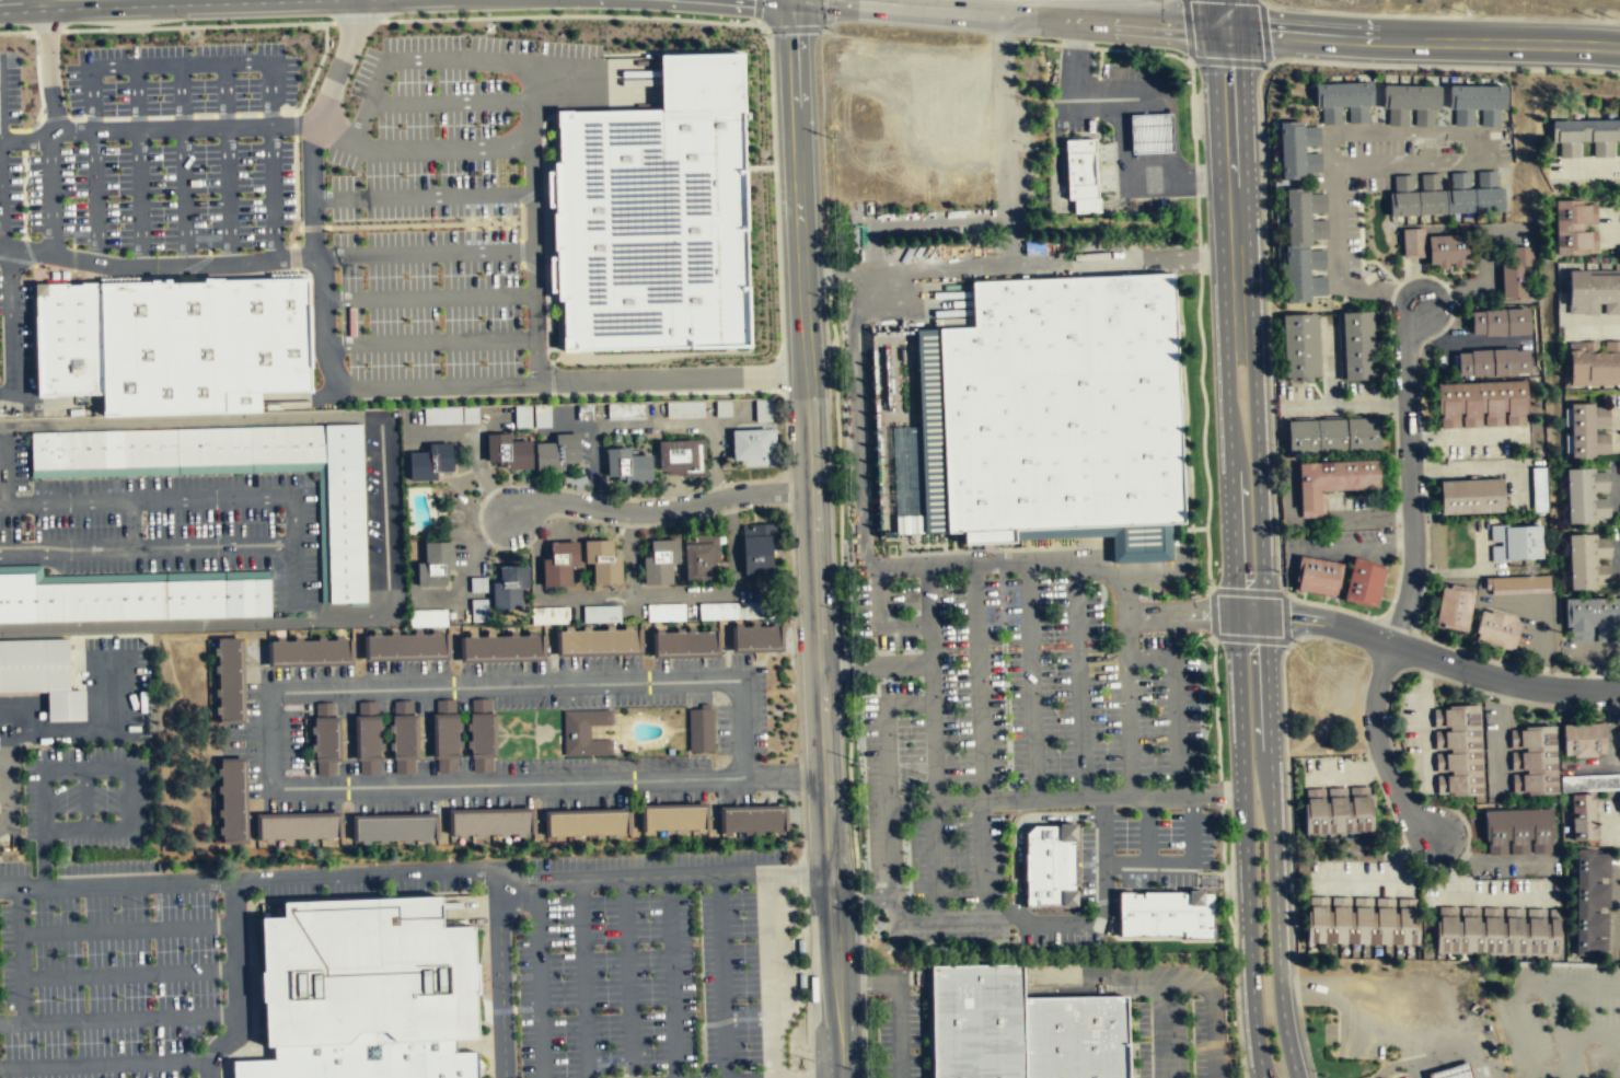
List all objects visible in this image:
road: (783, 1)
road: (792, 1)
traffic signals: (792, 2)
road: (1227, 15)
road: (1010, 19)
road: (358, 21)
road: (738, 23)
road: (198, 26)
road: (47, 30)
road: (15, 32)
street lamp: (581, 35)
street lamp: (302, 39)
road: (1424, 42)
street lamp: (467, 43)
street lamp: (535, 47)
road: (414, 58)
road: (178, 65)
street lamp: (1319, 66)
road: (315, 69)
street lamp: (1411, 70)
street lamp: (1509, 72)
street lamp: (245, 74)
street lamp: (158, 77)
street lamp: (103, 79)
street lamp: (433, 81)
road: (592, 82)
street lamp: (1195, 82)
street lamp: (387, 83)
road: (39, 89)
building: (1344, 93)
road: (224, 95)
road: (180, 96)
road: (1076, 96)
building: (1412, 96)
building: (1479, 96)
road: (136, 97)
road: (449, 102)
street lamp: (67, 107)
street lamp: (518, 113)
road: (55, 116)
road: (38, 117)
road: (294, 125)
road: (4, 129)
road: (121, 129)
building: (1149, 132)
gas station: (1149, 132)
road: (1482, 134)
road: (554, 137)
building: (1584, 137)
street lamp: (290, 138)
road: (796, 138)
road: (24, 140)
street lamp: (204, 140)
street lamp: (115, 142)
parking lot: (148, 148)
road: (421, 148)
building: (1292, 149)
street lamp: (30, 153)
road: (548, 160)
road: (747, 167)
street lamp: (519, 172)
street lamp: (361, 173)
street lamp: (436, 173)
building: (1079, 174)
road: (296, 182)
road: (1145, 183)
road: (1233, 184)
road: (50, 190)
road: (273, 192)
road: (228, 194)
road: (529, 194)
road: (183, 195)
road: (423, 195)
road: (95, 196)
road: (138, 196)
building: (1448, 200)
parking lot: (445, 212)
street lamp: (327, 213)
building: (655, 217)
street lamp: (293, 222)
road: (520, 222)
street lamp: (206, 223)
road: (533, 223)
road: (423, 224)
street lamp: (118, 225)
road: (745, 225)
road: (0, 227)
street lamp: (498, 227)
street lamp: (516, 227)
street lamp: (1203, 227)
road: (297, 228)
road: (313, 228)
building: (1574, 228)
street lamp: (439, 229)
street lamp: (362, 230)
street lamp: (34, 235)
road: (293, 235)
building: (1414, 242)
road: (544, 243)
building: (1297, 244)
building: (1450, 247)
road: (521, 251)
road: (424, 253)
road: (551, 253)
road: (557, 253)
road: (293, 256)
road: (288, 258)
road: (1056, 263)
road: (521, 264)
road: (1335, 268)
road: (534, 269)
road: (840, 273)
street lamp: (521, 274)
street lamp: (439, 275)
building: (1515, 275)
road: (207, 276)
street lamp: (363, 277)
building: (1593, 292)
street lamp: (1271, 297)
road: (429, 298)
parking lot: (13, 315)
street lamp: (522, 317)
building: (1500, 324)
road: (10, 325)
road: (325, 331)
building: (62, 341)
road: (429, 341)
building: (1301, 346)
building: (1356, 346)
building: (197, 347)
street lamp: (523, 362)
street lamp: (440, 363)
building: (1492, 363)
building: (1593, 363)
street lamp: (366, 366)
road: (779, 369)
street lamp: (1207, 375)
road: (671, 376)
road: (551, 378)
road: (430, 384)
road: (667, 392)
road: (291, 398)
building: (1063, 403)
building: (1481, 404)
road: (291, 408)
building: (762, 410)
building: (531, 416)
road: (860, 417)
road: (193, 420)
road: (786, 425)
building: (1587, 431)
building: (1334, 433)
building: (180, 445)
building: (752, 445)
street lamp: (1276, 447)
building: (509, 454)
building: (555, 454)
building: (679, 456)
building: (429, 463)
road: (1, 466)
building: (627, 466)
road: (1411, 474)
building: (1332, 483)
road: (788, 487)
street lamp: (588, 490)
building: (1472, 495)
building: (1586, 497)
road: (389, 503)
road: (660, 510)
building: (347, 512)
road: (292, 521)
street lamp: (1214, 524)
street lamp: (481, 536)
building: (1515, 544)
building: (756, 548)
building: (698, 558)
building: (602, 560)
building: (658, 560)
building: (435, 563)
building: (558, 563)
road: (1073, 563)
building: (1589, 563)
road: (294, 573)
road: (819, 573)
street lamp: (1282, 575)
building: (1316, 577)
building: (1363, 583)
building: (1520, 583)
building: (509, 586)
road: (880, 594)
building: (130, 599)
building: (1456, 606)
building: (478, 610)
building: (731, 611)
road: (792, 612)
building: (600, 613)
building: (549, 615)
building: (1593, 615)
street lamp: (1373, 616)
building: (428, 617)
road: (206, 623)
road: (1315, 623)
road: (906, 624)
building: (1498, 629)
building: (755, 636)
building: (597, 639)
building: (684, 641)
building: (403, 645)
building: (500, 646)
building: (311, 650)
road: (1149, 660)
road: (877, 665)
road: (1265, 671)
building: (42, 675)
road: (1079, 679)
building: (231, 680)
road: (1030, 681)
road: (1503, 681)
road: (933, 683)
road: (980, 683)
road: (273, 692)
street lamp: (1488, 696)
road: (911, 702)
road: (692, 706)
road: (1126, 706)
road: (1240, 706)
road: (569, 708)
street lamp: (1219, 711)
road: (1176, 727)
road: (557, 729)
building: (699, 729)
park: (542, 732)
building: (583, 732)
building: (481, 734)
road: (518, 734)
building: (444, 735)
building: (367, 737)
building: (403, 737)
building: (1618, 738)
building: (324, 739)
building: (1583, 741)
road: (1378, 749)
building: (1457, 752)
building: (1534, 762)
road: (100, 769)
road: (799, 775)
road: (785, 776)
building: (1590, 784)
street lamp: (1291, 787)
road: (1066, 796)
road: (86, 800)
building: (233, 801)
building: (1339, 808)
building: (672, 818)
building: (1582, 818)
building: (751, 820)
building: (488, 822)
building: (585, 823)
road: (801, 826)
building: (294, 827)
road: (1017, 827)
building: (392, 828)
road: (1147, 828)
road: (1190, 828)
building: (1518, 832)
road: (981, 857)
road: (933, 859)
street lamp: (1226, 861)
road: (1146, 862)
building: (1050, 863)
road: (800, 872)
road: (803, 872)
road: (364, 873)
road: (632, 877)
parking lot: (364, 879)
road: (116, 884)
road: (357, 895)
road: (863, 896)
building: (1590, 903)
building: (1167, 913)
road: (952, 915)
building: (1363, 919)
street lamp: (1297, 925)
road: (127, 929)
building: (1498, 929)
parking lot: (104, 934)
building: (799, 947)
road: (21, 954)
parking lot: (650, 963)
street lamp: (797, 969)
building: (362, 970)
road: (128, 973)
road: (1100, 973)
road: (500, 974)
road: (771, 975)
road: (836, 975)
road: (671, 976)
road: (721, 976)
road: (627, 977)
road: (252, 978)
road: (583, 978)
road: (806, 978)
road: (539, 980)
building: (801, 981)
road: (861, 981)
road: (235, 984)
road: (1312, 985)
road: (928, 992)
road: (899, 997)
road: (1211, 1004)
road: (1517, 1005)
road: (118, 1019)
building: (977, 1020)
road: (190, 1021)
road: (1161, 1024)
road: (1561, 1024)
road: (1375, 1032)
road: (1461, 1032)
road: (1604, 1033)
road: (1615, 1034)
building: (1076, 1035)
road: (864, 1036)
road: (1287, 1043)
street lamp: (808, 1051)
road: (197, 1053)
road: (238, 1053)
building: (362, 1058)
road: (105, 1064)
road: (1392, 1066)
road: (809, 1071)
building: (1454, 1071)
gas station: (1454, 1071)
street lamp: (1317, 1073)

